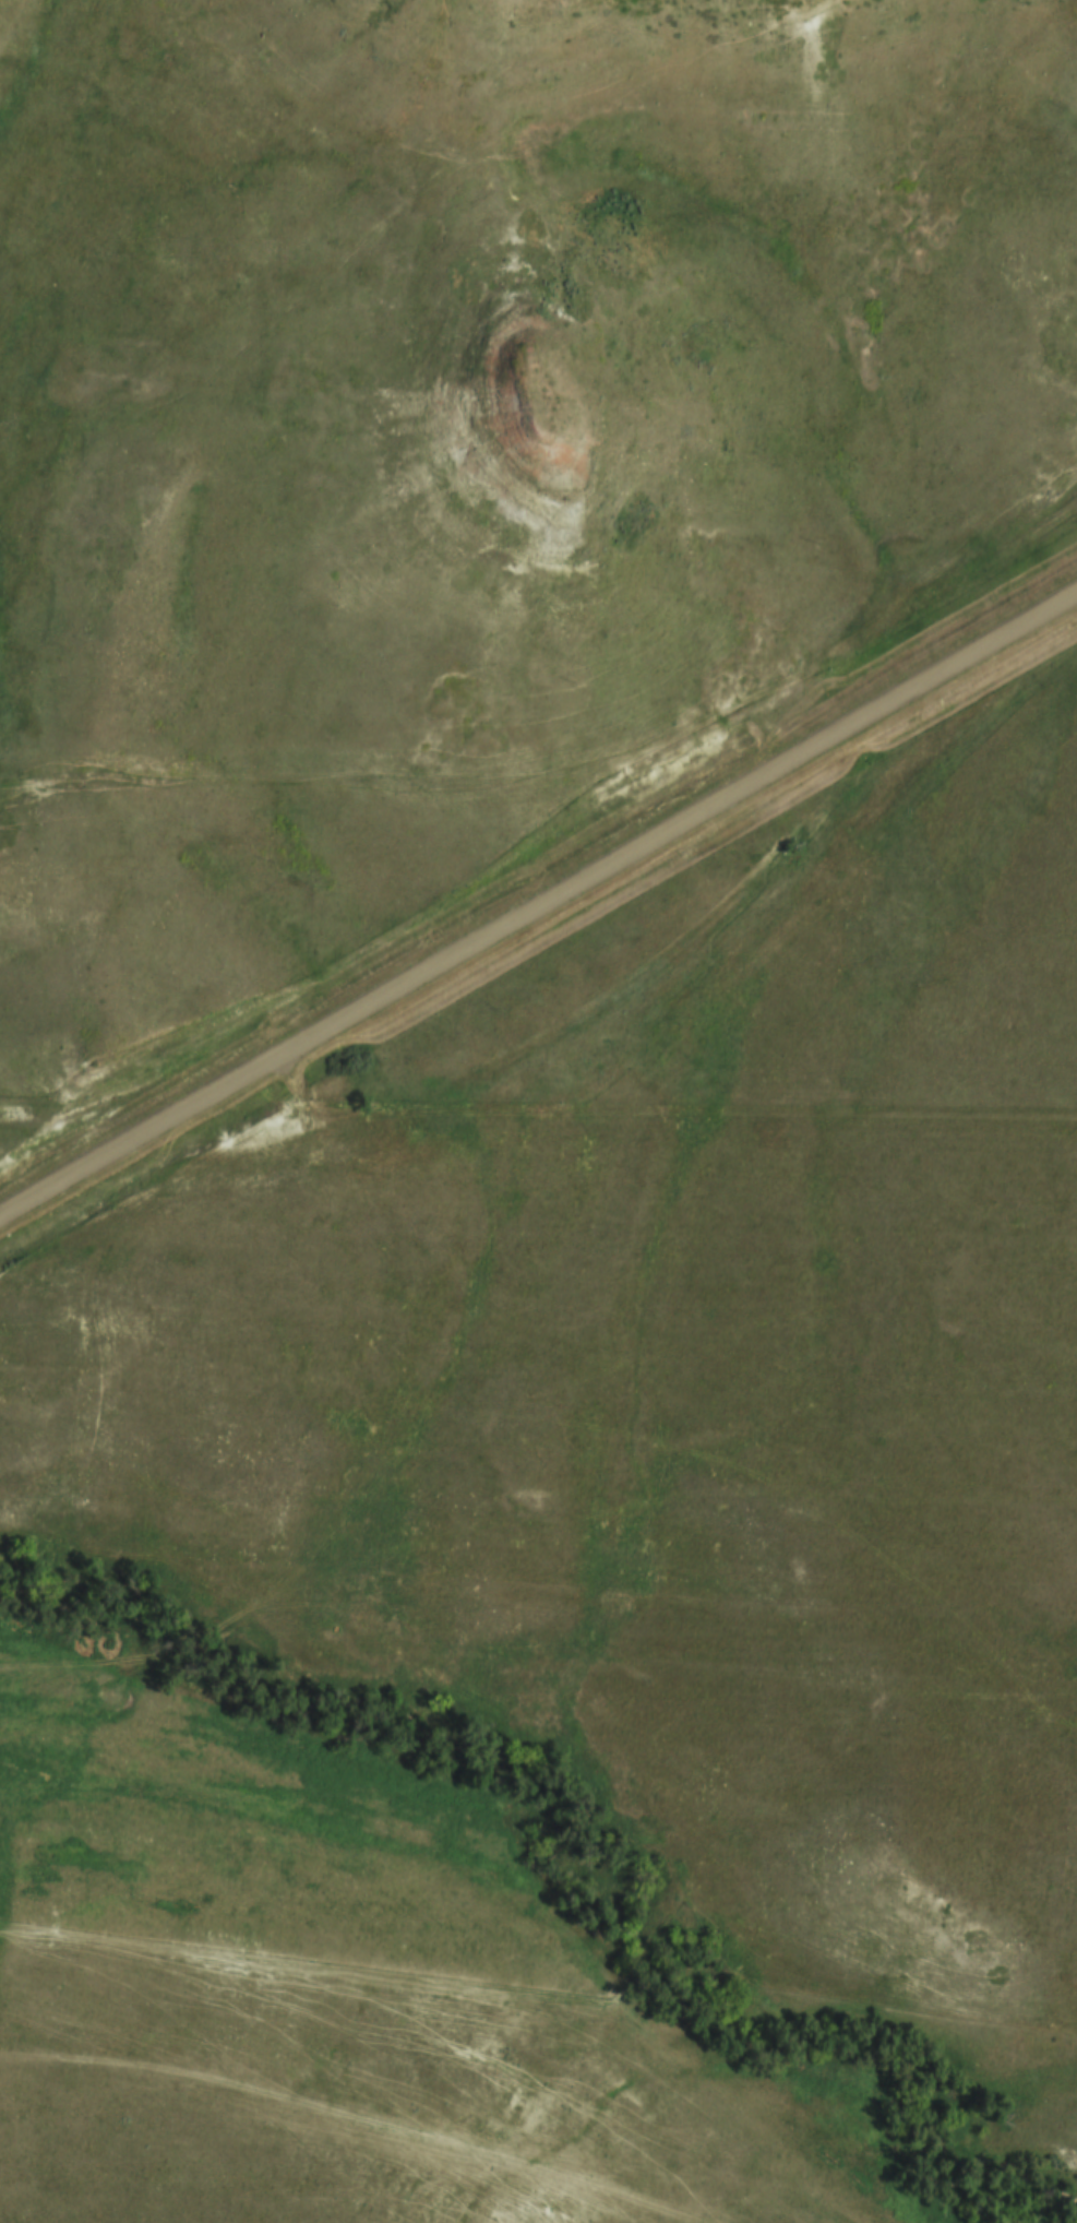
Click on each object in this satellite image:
road: (538, 901)

